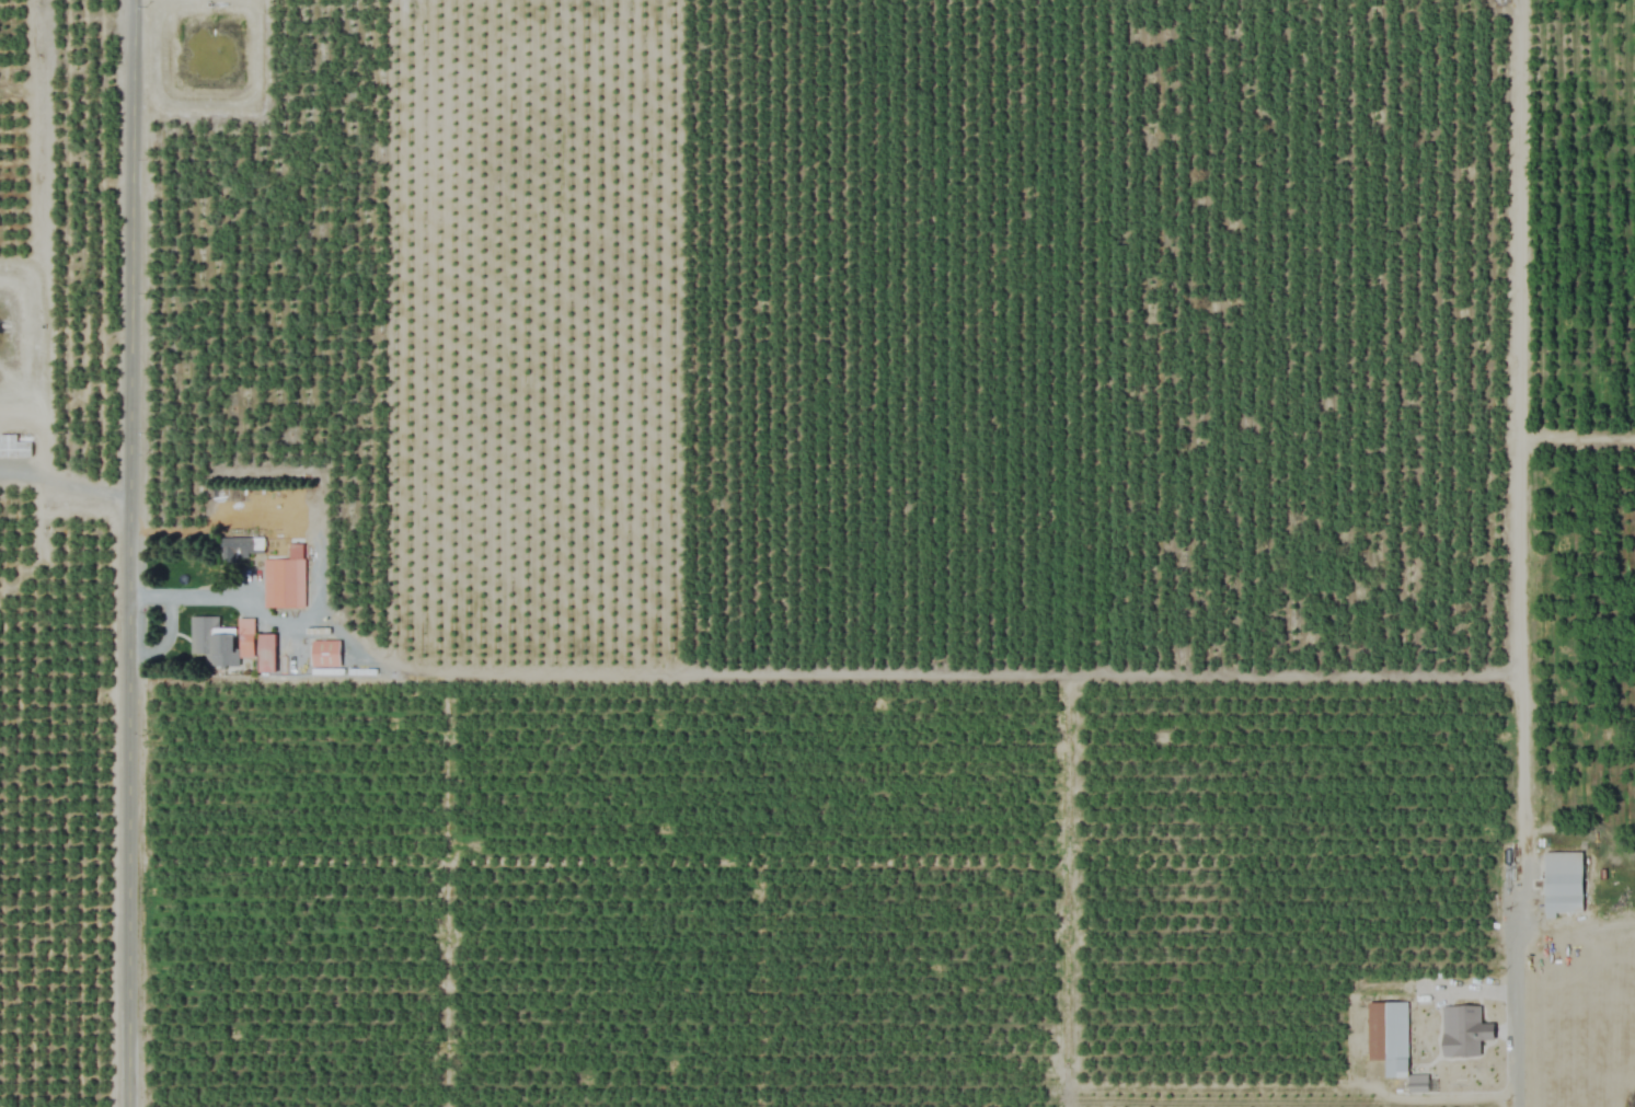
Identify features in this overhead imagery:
building: (13, 448)
road: (68, 483)
building: (241, 547)
road: (136, 553)
building: (283, 584)
road: (196, 595)
road: (165, 634)
building: (212, 642)
building: (325, 654)
building: (1563, 884)
building: (1462, 1034)
building: (1389, 1036)
road: (1523, 1039)

